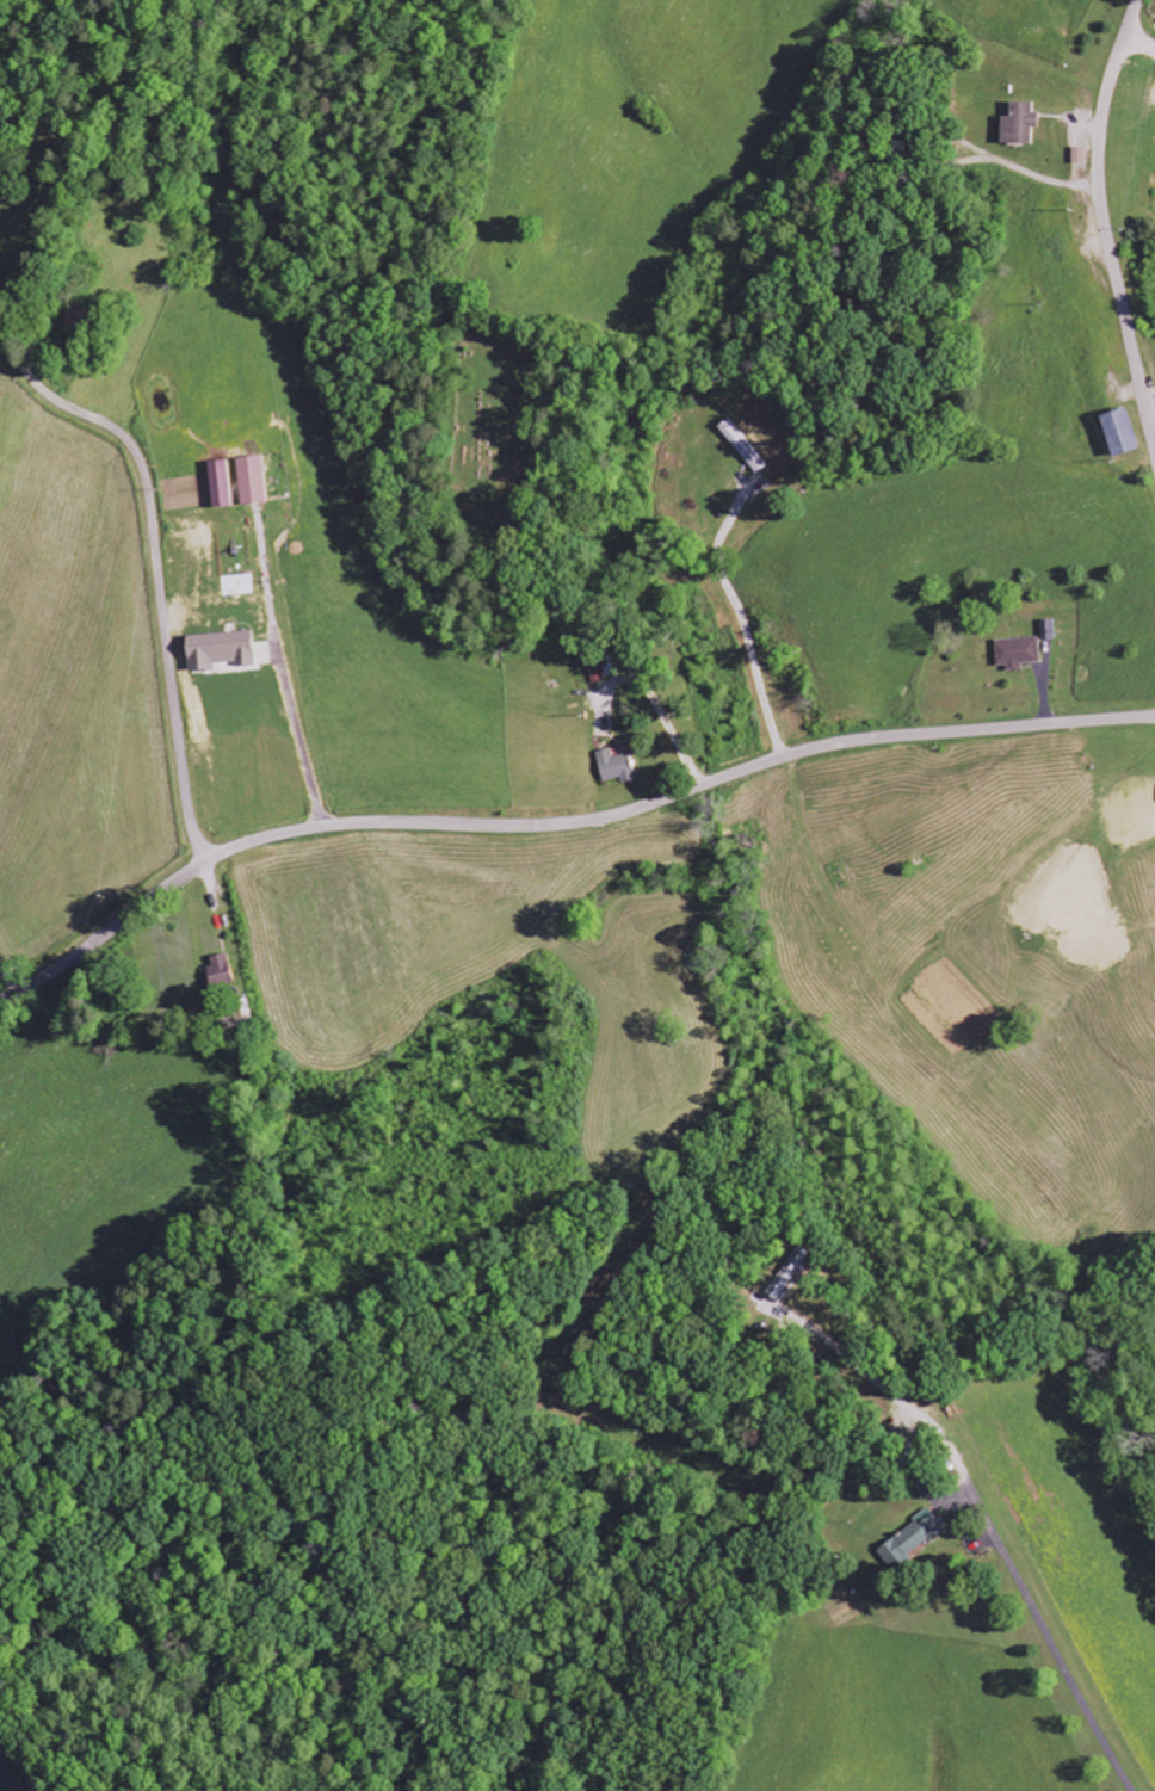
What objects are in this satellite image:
road: (1141, 43)
building: (1015, 124)
building: (1076, 156)
road: (1102, 221)
building: (1117, 434)
building: (251, 482)
building: (218, 484)
road: (155, 566)
road: (614, 635)
building: (218, 650)
building: (1015, 653)
building: (595, 673)
building: (614, 766)
road: (560, 822)
building: (220, 971)
building: (786, 1273)
building: (909, 1540)
road: (1049, 1642)

